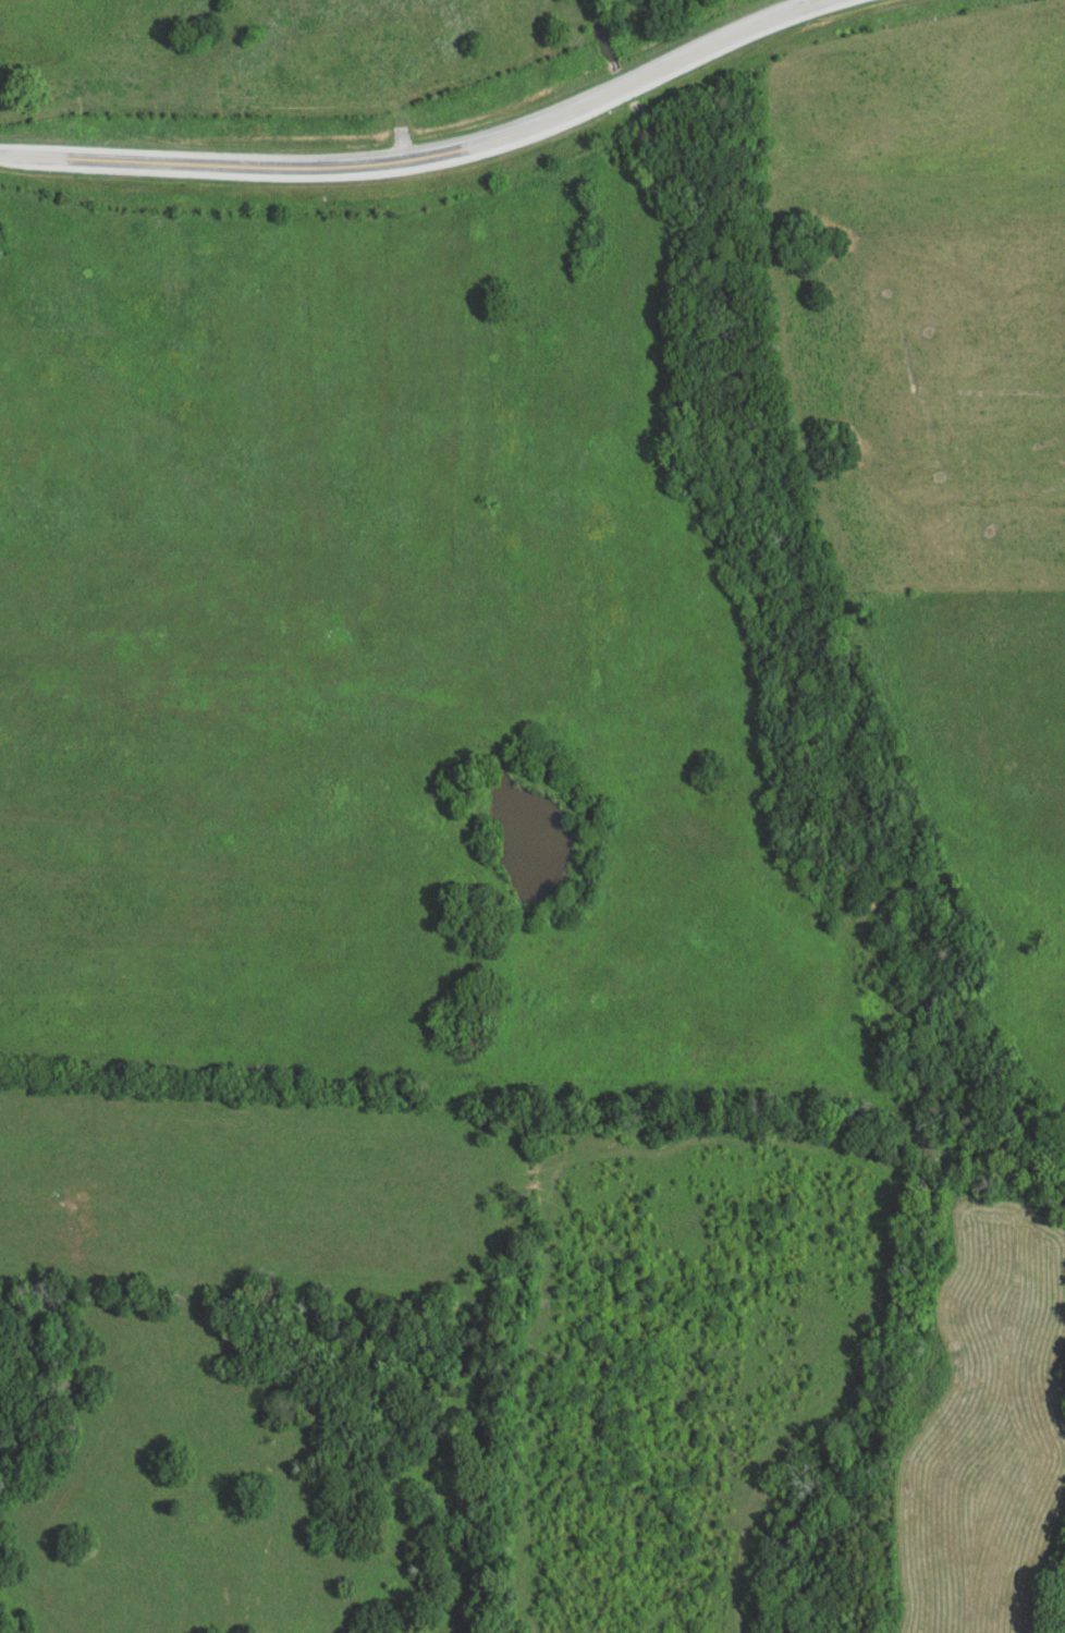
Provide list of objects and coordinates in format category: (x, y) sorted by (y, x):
road: (424, 155)

